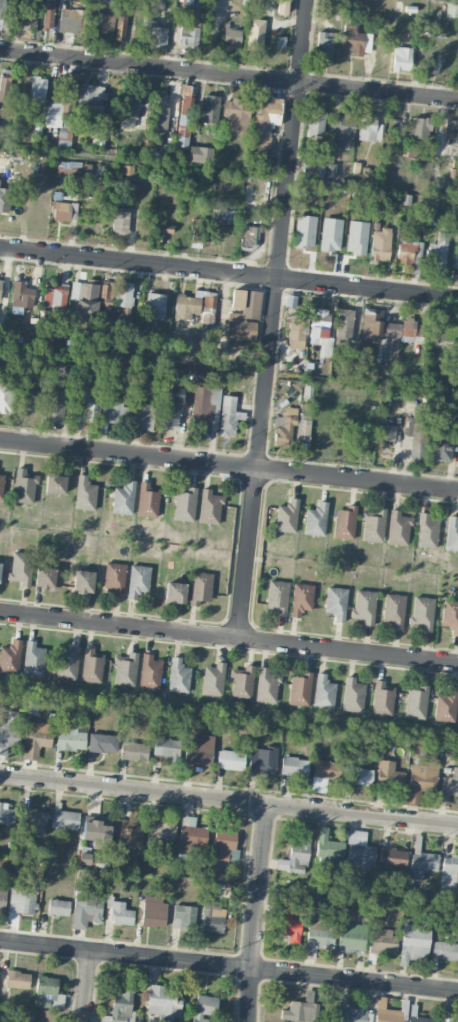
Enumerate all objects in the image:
building: (112, 5)
building: (282, 7)
building: (413, 7)
building: (1, 13)
building: (26, 14)
building: (48, 15)
building: (72, 17)
building: (99, 25)
building: (120, 26)
building: (156, 34)
building: (188, 34)
building: (255, 35)
building: (232, 36)
building: (356, 40)
building: (324, 46)
building: (401, 59)
road: (229, 75)
building: (37, 86)
building: (5, 89)
building: (67, 92)
building: (92, 100)
building: (210, 109)
building: (128, 111)
building: (161, 111)
building: (236, 114)
building: (52, 115)
building: (184, 117)
building: (264, 124)
building: (316, 124)
building: (65, 126)
building: (367, 127)
building: (420, 127)
building: (342, 130)
building: (451, 131)
building: (200, 154)
building: (311, 166)
building: (68, 168)
building: (330, 170)
building: (4, 199)
building: (64, 210)
building: (222, 213)
building: (120, 221)
building: (196, 230)
building: (164, 233)
road: (282, 233)
building: (248, 236)
building: (380, 243)
building: (408, 248)
building: (438, 251)
building: (456, 257)
road: (228, 273)
building: (0, 287)
building: (106, 294)
building: (123, 294)
building: (55, 295)
building: (21, 297)
building: (85, 297)
building: (209, 301)
building: (290, 301)
building: (155, 306)
building: (186, 306)
building: (124, 312)
building: (243, 314)
building: (344, 326)
building: (295, 331)
building: (320, 331)
building: (411, 331)
building: (381, 333)
building: (22, 402)
building: (54, 402)
building: (89, 403)
building: (205, 403)
building: (172, 408)
building: (114, 410)
building: (228, 416)
building: (142, 417)
building: (284, 426)
building: (302, 429)
building: (416, 431)
building: (385, 432)
building: (443, 444)
road: (128, 453)
road: (357, 478)
building: (55, 483)
building: (0, 486)
building: (23, 486)
building: (84, 494)
building: (123, 498)
building: (147, 500)
building: (184, 504)
building: (209, 507)
building: (287, 516)
building: (316, 519)
building: (345, 523)
building: (373, 525)
building: (398, 528)
building: (426, 531)
building: (452, 534)
road: (248, 552)
building: (0, 565)
building: (21, 568)
building: (44, 577)
building: (114, 578)
building: (138, 581)
building: (83, 582)
building: (200, 588)
building: (175, 592)
building: (277, 596)
building: (301, 598)
building: (336, 603)
building: (364, 606)
building: (394, 610)
building: (422, 613)
building: (450, 616)
road: (229, 636)
building: (10, 657)
building: (33, 659)
building: (67, 664)
building: (91, 666)
building: (125, 670)
building: (149, 672)
building: (178, 676)
building: (213, 680)
building: (242, 682)
building: (267, 685)
building: (300, 690)
building: (324, 692)
building: (353, 695)
building: (382, 699)
building: (416, 702)
building: (446, 706)
building: (9, 731)
building: (69, 737)
building: (36, 738)
building: (102, 743)
building: (167, 749)
building: (134, 751)
building: (418, 752)
building: (198, 756)
building: (230, 760)
building: (263, 760)
building: (294, 766)
building: (323, 769)
building: (358, 775)
building: (389, 775)
building: (421, 780)
building: (448, 786)
road: (228, 799)
building: (7, 814)
building: (65, 819)
building: (33, 822)
building: (160, 830)
building: (96, 832)
building: (128, 833)
building: (191, 837)
building: (222, 845)
building: (327, 850)
building: (359, 854)
building: (234, 855)
building: (295, 856)
building: (392, 857)
building: (422, 865)
building: (448, 874)
building: (2, 898)
building: (21, 901)
building: (58, 907)
building: (86, 908)
building: (119, 911)
building: (153, 911)
road: (255, 912)
building: (183, 917)
building: (212, 917)
building: (290, 923)
building: (320, 934)
building: (351, 937)
building: (382, 942)
building: (414, 942)
building: (445, 950)
road: (228, 965)
building: (17, 979)
road: (87, 986)
building: (47, 992)
building: (163, 1003)
building: (121, 1006)
building: (204, 1008)
building: (301, 1011)
building: (386, 1012)
building: (352, 1015)
building: (420, 1019)
building: (440, 1021)
building: (452, 1021)

